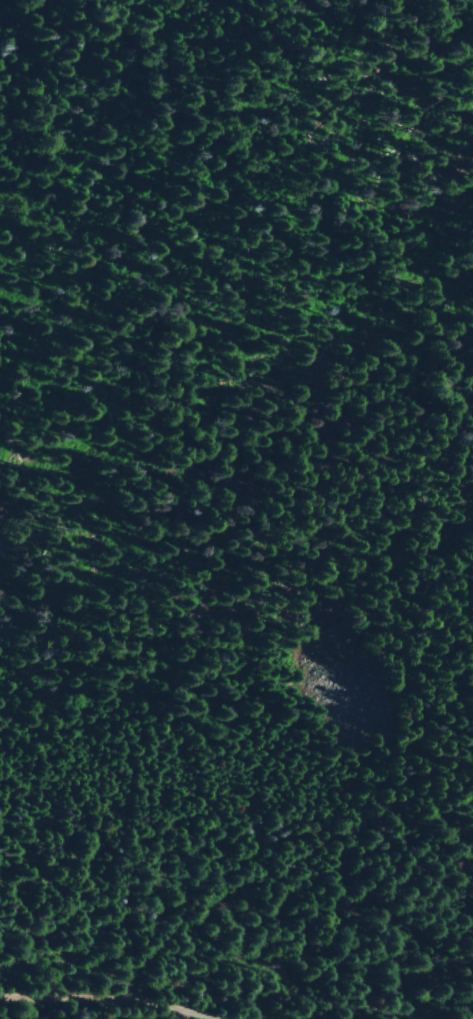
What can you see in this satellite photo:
road: (110, 997)

